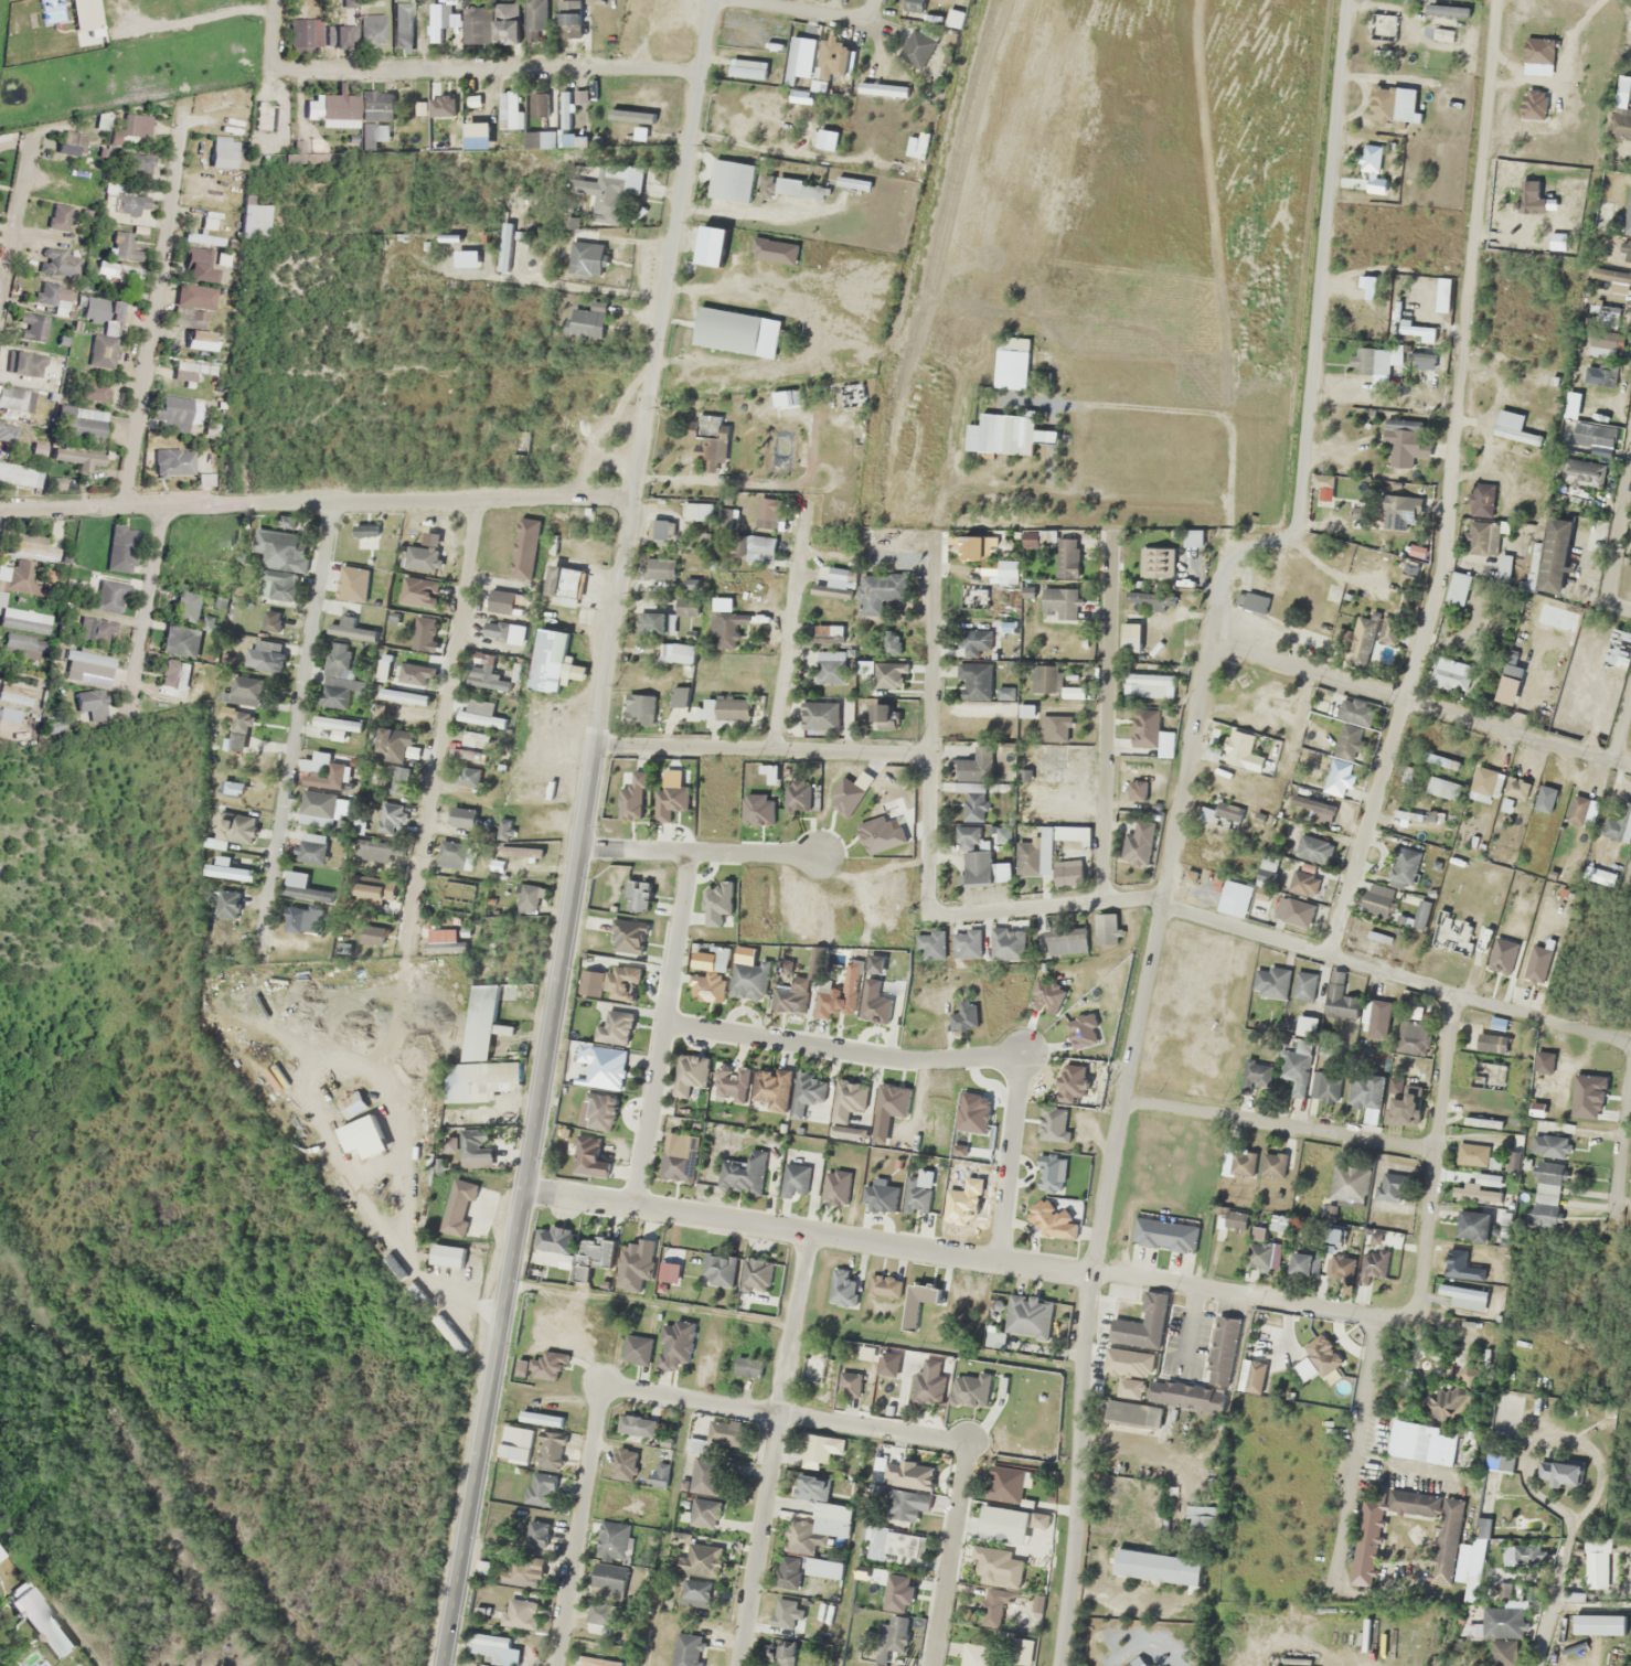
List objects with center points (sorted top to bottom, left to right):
building: (912, 7)
road: (806, 10)
building: (535, 19)
building: (567, 20)
building: (507, 22)
building: (445, 23)
building: (478, 23)
building: (1381, 25)
building: (372, 29)
building: (402, 29)
building: (342, 30)
road: (270, 34)
building: (305, 34)
building: (916, 49)
building: (792, 61)
road: (484, 68)
building: (883, 88)
building: (473, 99)
building: (375, 104)
building: (540, 105)
building: (324, 108)
building: (511, 108)
building: (565, 108)
building: (374, 135)
building: (73, 142)
building: (1371, 157)
building: (731, 180)
building: (605, 195)
building: (119, 204)
road: (17, 214)
building: (58, 216)
building: (252, 218)
building: (120, 245)
building: (586, 257)
building: (222, 258)
building: (196, 260)
building: (60, 263)
building: (1610, 278)
building: (52, 296)
road: (154, 307)
building: (100, 309)
building: (587, 321)
building: (33, 327)
building: (726, 330)
building: (1605, 343)
building: (102, 350)
building: (1373, 360)
building: (25, 363)
building: (192, 366)
building: (86, 387)
building: (787, 397)
building: (14, 398)
building: (177, 413)
building: (81, 421)
building: (1512, 427)
building: (994, 431)
building: (1593, 435)
building: (1405, 441)
building: (712, 448)
building: (79, 458)
building: (204, 460)
building: (174, 462)
building: (1582, 472)
building: (15, 473)
road: (1449, 482)
building: (1481, 499)
road: (316, 502)
building: (699, 511)
building: (767, 512)
building: (1399, 512)
building: (364, 528)
building: (1192, 540)
road: (1616, 540)
building: (35, 541)
building: (737, 544)
building: (974, 547)
building: (119, 548)
building: (760, 548)
building: (1417, 552)
building: (1554, 554)
building: (422, 557)
building: (1067, 557)
building: (659, 568)
building: (1006, 570)
building: (1409, 572)
building: (20, 578)
building: (834, 581)
building: (277, 583)
building: (352, 583)
building: (564, 584)
building: (1458, 588)
building: (881, 590)
building: (417, 591)
building: (109, 595)
building: (636, 600)
building: (505, 601)
building: (1147, 601)
building: (1059, 602)
building: (684, 604)
road: (147, 606)
building: (271, 620)
building: (726, 622)
building: (654, 623)
road: (789, 624)
building: (349, 628)
building: (94, 629)
building: (504, 631)
building: (424, 632)
building: (1371, 632)
building: (181, 639)
building: (973, 641)
building: (21, 648)
building: (1618, 649)
building: (683, 652)
building: (831, 654)
building: (264, 655)
building: (552, 661)
building: (87, 663)
building: (865, 666)
building: (384, 668)
building: (171, 672)
building: (1448, 672)
building: (413, 673)
building: (888, 674)
building: (476, 676)
building: (339, 677)
building: (973, 681)
building: (1052, 682)
building: (1148, 684)
building: (1507, 684)
building: (246, 690)
building: (14, 694)
building: (403, 695)
building: (679, 695)
building: (90, 704)
road: (1418, 705)
road: (1106, 706)
building: (725, 707)
building: (639, 708)
building: (480, 713)
building: (820, 715)
building: (882, 715)
road: (297, 718)
road: (444, 718)
building: (338, 722)
building: (1055, 726)
building: (1145, 727)
road: (1622, 727)
building: (237, 729)
building: (1347, 744)
road: (767, 749)
building: (1247, 749)
building: (396, 757)
building: (322, 770)
building: (468, 776)
building: (1510, 786)
building: (972, 787)
building: (1443, 787)
building: (1252, 788)
building: (1136, 790)
building: (796, 793)
building: (1544, 798)
building: (671, 800)
building: (318, 805)
building: (756, 808)
building: (1313, 809)
building: (1578, 810)
building: (1227, 811)
road: (1181, 812)
building: (462, 816)
building: (391, 818)
building: (1620, 821)
building: (242, 827)
building: (503, 829)
road: (579, 833)
building: (875, 834)
road: (927, 837)
building: (1139, 842)
building: (312, 847)
building: (372, 851)
building: (519, 851)
building: (1312, 851)
building: (454, 854)
road: (696, 854)
building: (973, 855)
building: (1045, 856)
building: (1403, 865)
building: (227, 869)
building: (1267, 869)
building: (1067, 872)
building: (1304, 883)
building: (374, 887)
building: (307, 893)
building: (639, 896)
building: (1376, 900)
building: (227, 903)
building: (1294, 910)
building: (302, 921)
building: (712, 921)
building: (1105, 929)
building: (372, 933)
building: (628, 936)
building: (1378, 936)
building: (1065, 940)
building: (444, 941)
building: (967, 943)
building: (1008, 943)
building: (930, 944)
building: (1537, 963)
road: (1397, 969)
building: (712, 978)
building: (749, 980)
building: (620, 981)
building: (1270, 981)
building: (1303, 985)
building: (797, 993)
building: (1340, 1001)
building: (824, 1002)
building: (874, 1002)
building: (1376, 1017)
building: (615, 1029)
road: (664, 1032)
building: (1413, 1037)
building: (1483, 1042)
road: (842, 1050)
building: (606, 1066)
building: (1297, 1067)
building: (690, 1076)
building: (1368, 1082)
building: (729, 1083)
building: (1325, 1085)
building: (771, 1088)
building: (830, 1102)
building: (353, 1104)
building: (1406, 1107)
road: (1279, 1110)
building: (476, 1146)
building: (1472, 1153)
building: (679, 1156)
building: (587, 1157)
road: (1009, 1157)
road: (1436, 1160)
building: (1243, 1163)
road: (1627, 1171)
building: (744, 1173)
building: (1049, 1173)
building: (1348, 1182)
building: (1389, 1186)
building: (1480, 1188)
building: (881, 1197)
building: (458, 1206)
building: (1045, 1215)
building: (1230, 1222)
building: (1472, 1225)
building: (1164, 1232)
road: (804, 1234)
building: (1332, 1234)
building: (551, 1246)
building: (447, 1254)
building: (1258, 1254)
building: (593, 1256)
building: (633, 1265)
building: (719, 1269)
building: (669, 1271)
building: (756, 1273)
building: (843, 1289)
road: (1244, 1295)
building: (1461, 1296)
building: (1028, 1315)
building: (1142, 1324)
building: (674, 1344)
building: (636, 1349)
building: (544, 1365)
building: (747, 1366)
building: (815, 1366)
building: (1304, 1369)
road: (1398, 1375)
building: (1255, 1376)
building: (850, 1384)
building: (928, 1389)
building: (1449, 1398)
building: (1158, 1402)
road: (783, 1416)
building: (540, 1418)
building: (636, 1425)
building: (1424, 1442)
building: (515, 1443)
building: (695, 1445)
road: (772, 1450)
building: (1557, 1473)
building: (659, 1474)
building: (706, 1475)
building: (1004, 1483)
building: (540, 1488)
building: (904, 1504)
building: (824, 1509)
building: (1009, 1523)
road: (579, 1527)
building: (1482, 1527)
building: (536, 1532)
building: (612, 1539)
building: (876, 1542)
building: (1447, 1548)
building: (1522, 1553)
road: (949, 1555)
building: (1596, 1561)
building: (1156, 1566)
building: (822, 1567)
building: (998, 1567)
building: (520, 1570)
building: (787, 1570)
building: (695, 1571)
building: (608, 1580)
building: (896, 1591)
building: (508, 1612)
building: (603, 1621)
building: (1501, 1622)
building: (1598, 1624)
road: (1544, 1626)
building: (893, 1637)
building: (488, 1644)
building: (685, 1649)
building: (782, 1652)
building: (1503, 1652)
building: (978, 1655)
building: (596, 1658)
building: (1136, 1662)

